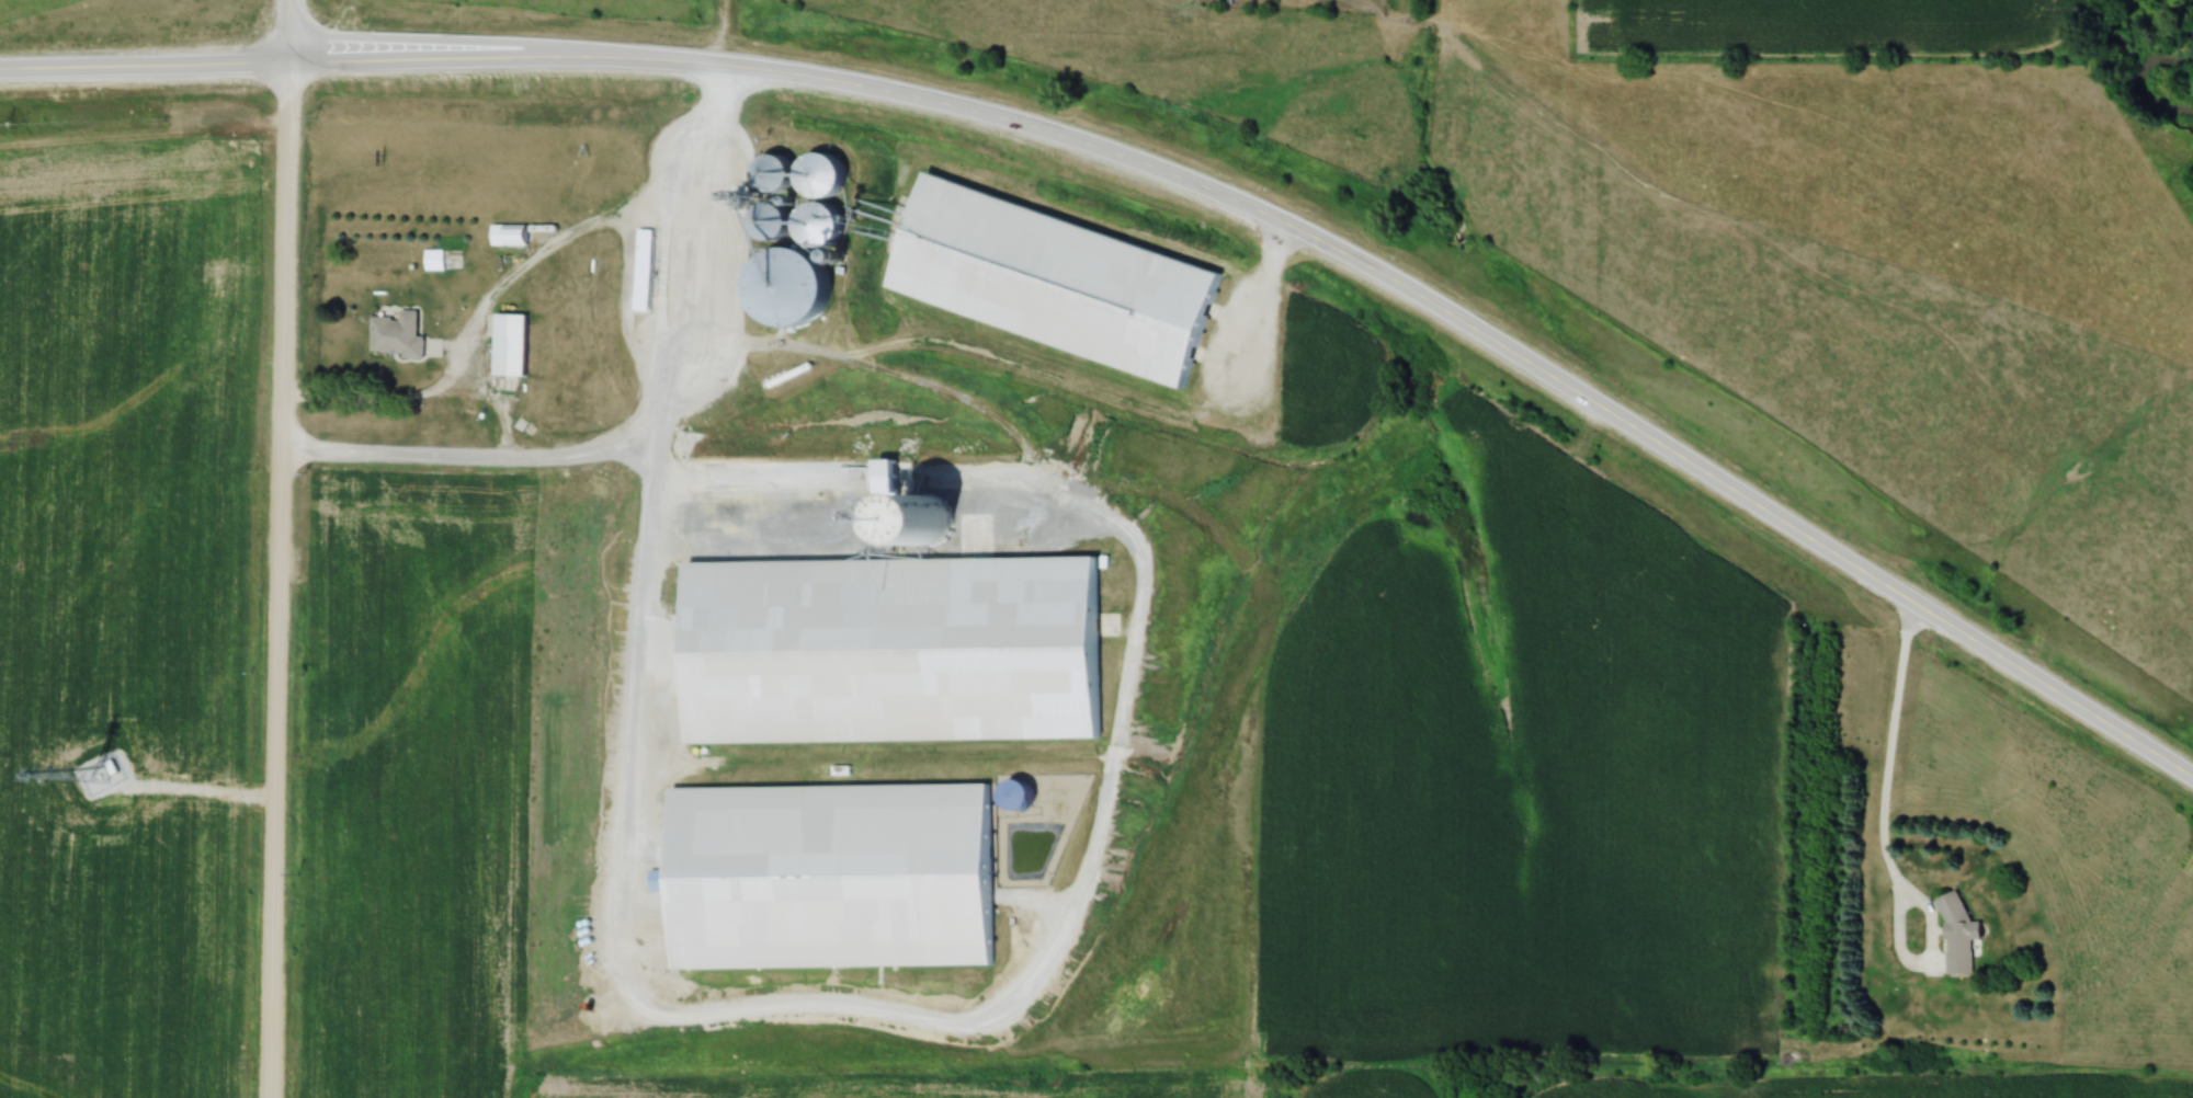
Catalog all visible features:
road: (286, 30)
river: (2150, 77)
building: (792, 175)
road: (1172, 179)
building: (507, 236)
building: (431, 261)
building: (777, 261)
building: (640, 271)
building: (1064, 275)
road: (1253, 305)
building: (393, 335)
building: (507, 345)
road: (406, 400)
road: (638, 421)
road: (280, 579)
building: (902, 640)
road: (1889, 756)
road: (202, 788)
crop: (1484, 790)
building: (836, 869)
building: (1954, 935)
road: (1930, 946)

